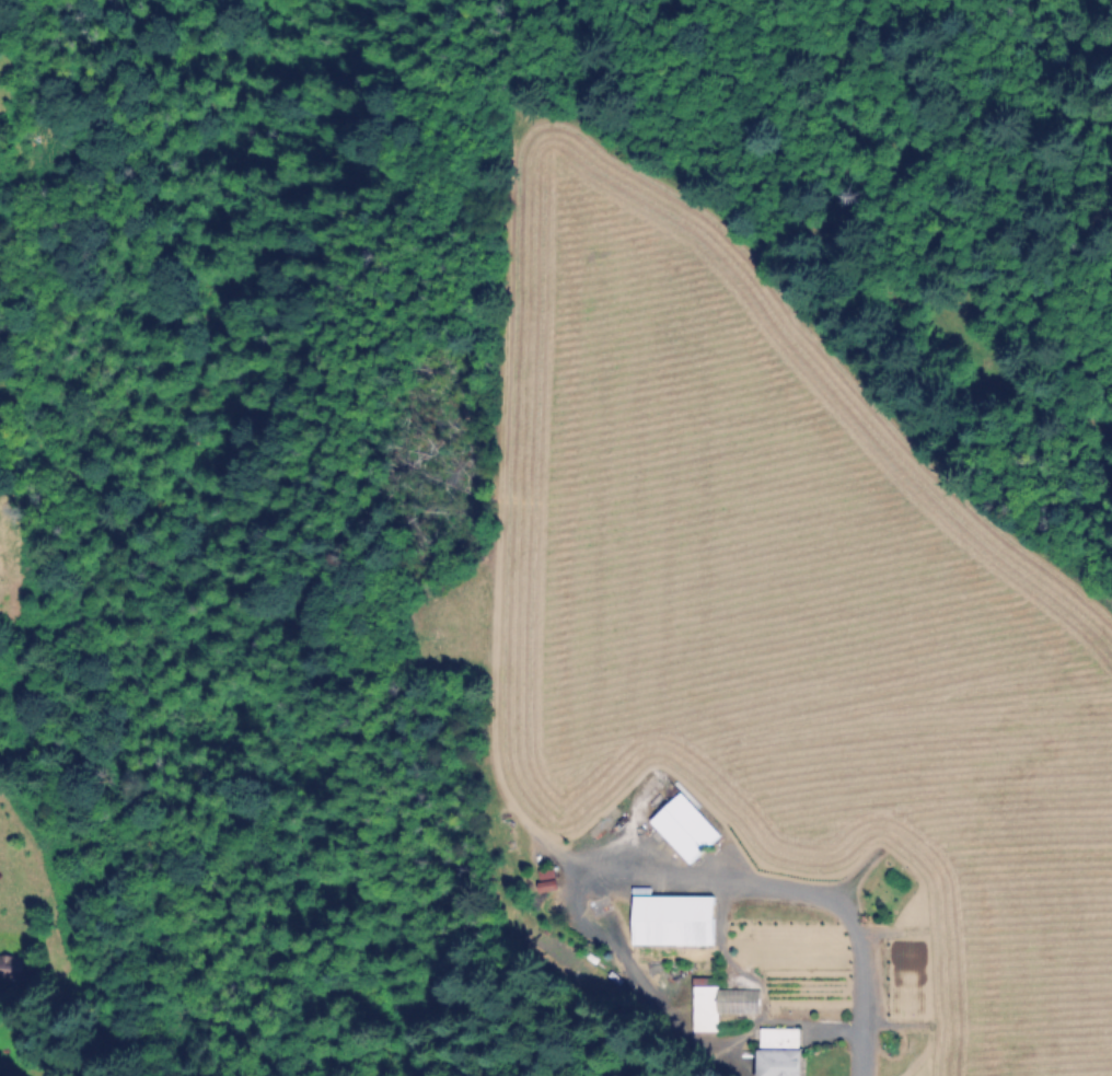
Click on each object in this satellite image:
building: (603, 821)
building: (690, 828)
road: (806, 887)
building: (669, 919)
building: (15, 968)
building: (783, 1051)

